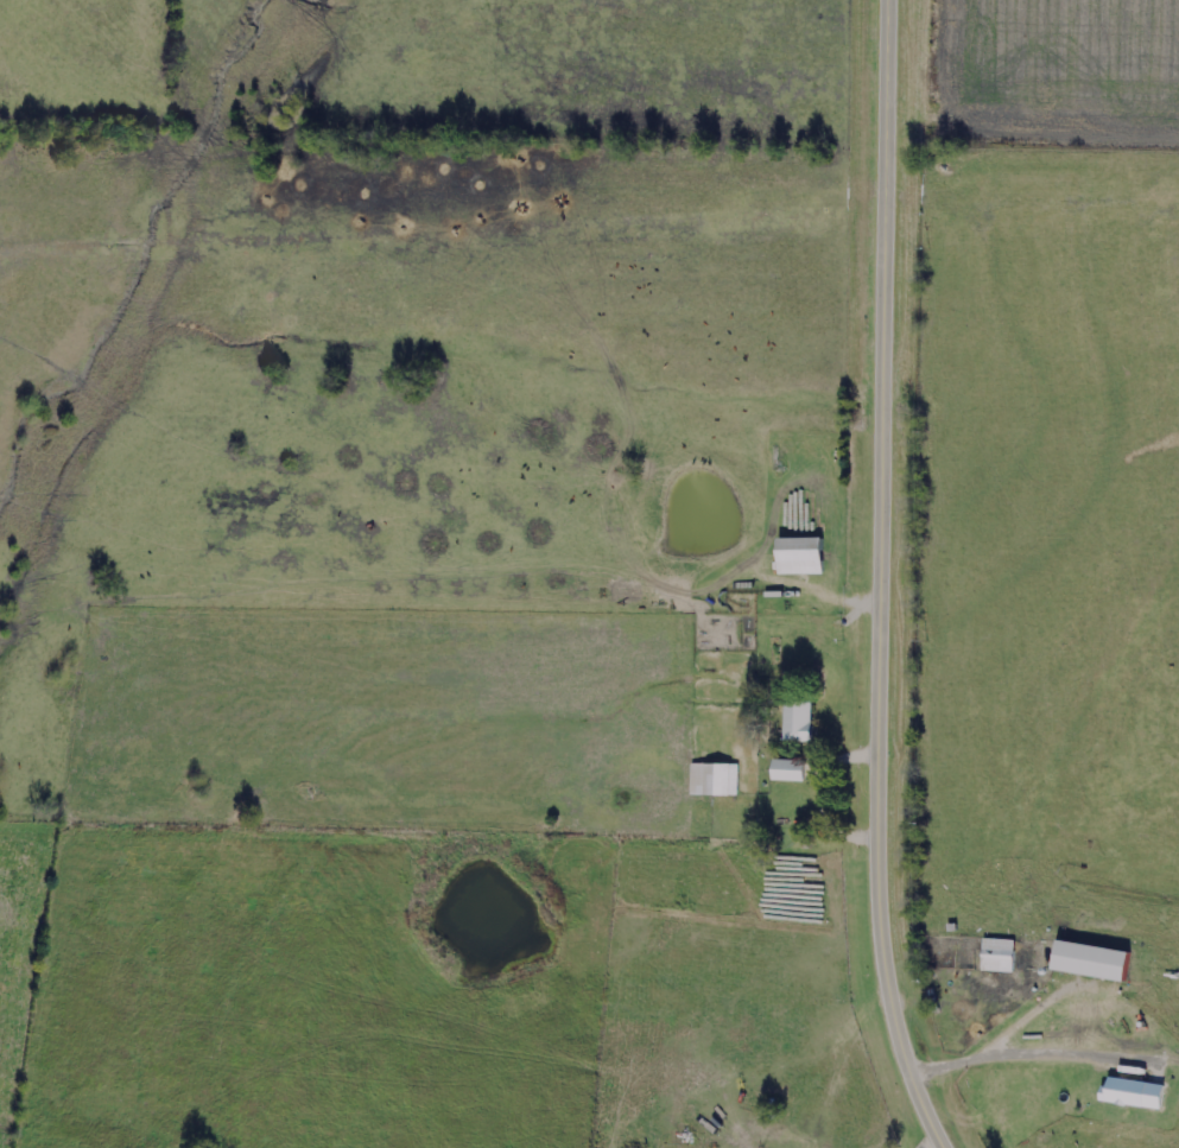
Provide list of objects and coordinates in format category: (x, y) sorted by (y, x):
building: (801, 557)
road: (879, 579)
building: (798, 723)
road: (850, 747)
building: (788, 772)
building: (714, 780)
building: (939, 957)
building: (999, 957)
building: (1094, 963)
building: (1135, 1095)
road: (931, 1142)

